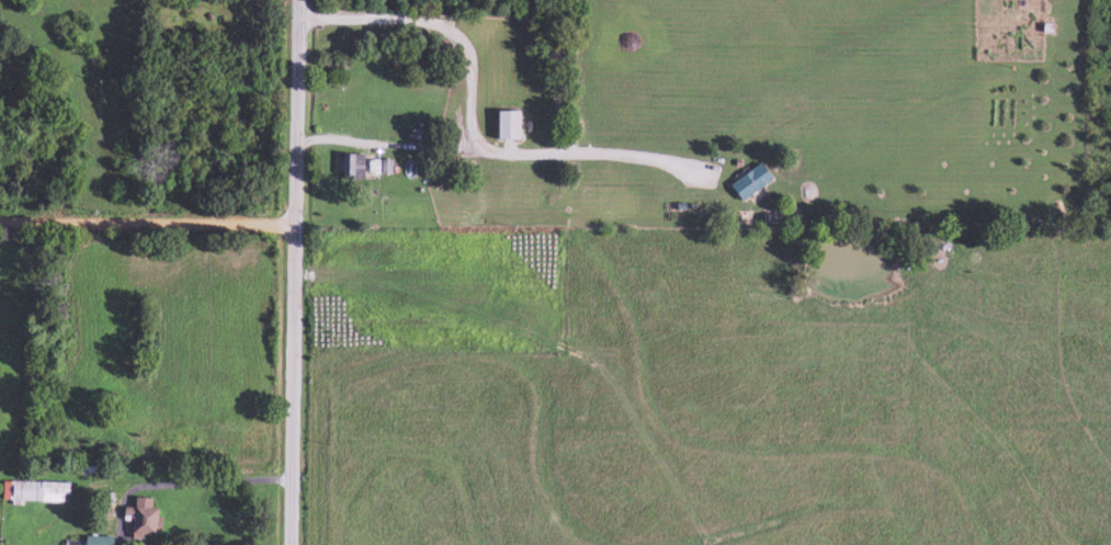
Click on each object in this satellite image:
road: (469, 120)
building: (506, 126)
building: (349, 167)
building: (377, 168)
building: (748, 182)
road: (147, 223)
road: (292, 272)
road: (175, 487)
building: (36, 493)
building: (140, 519)
building: (97, 541)

